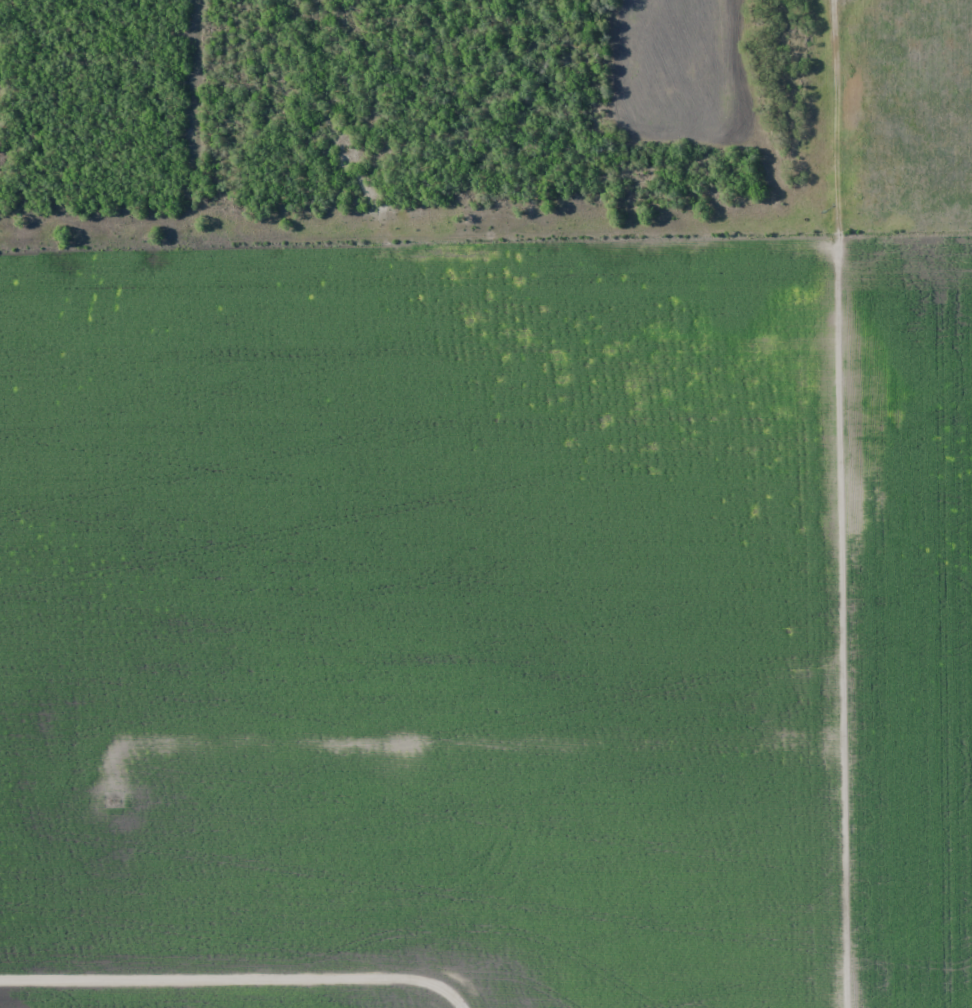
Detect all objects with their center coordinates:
road: (423, 259)
road: (850, 503)
road: (481, 747)

